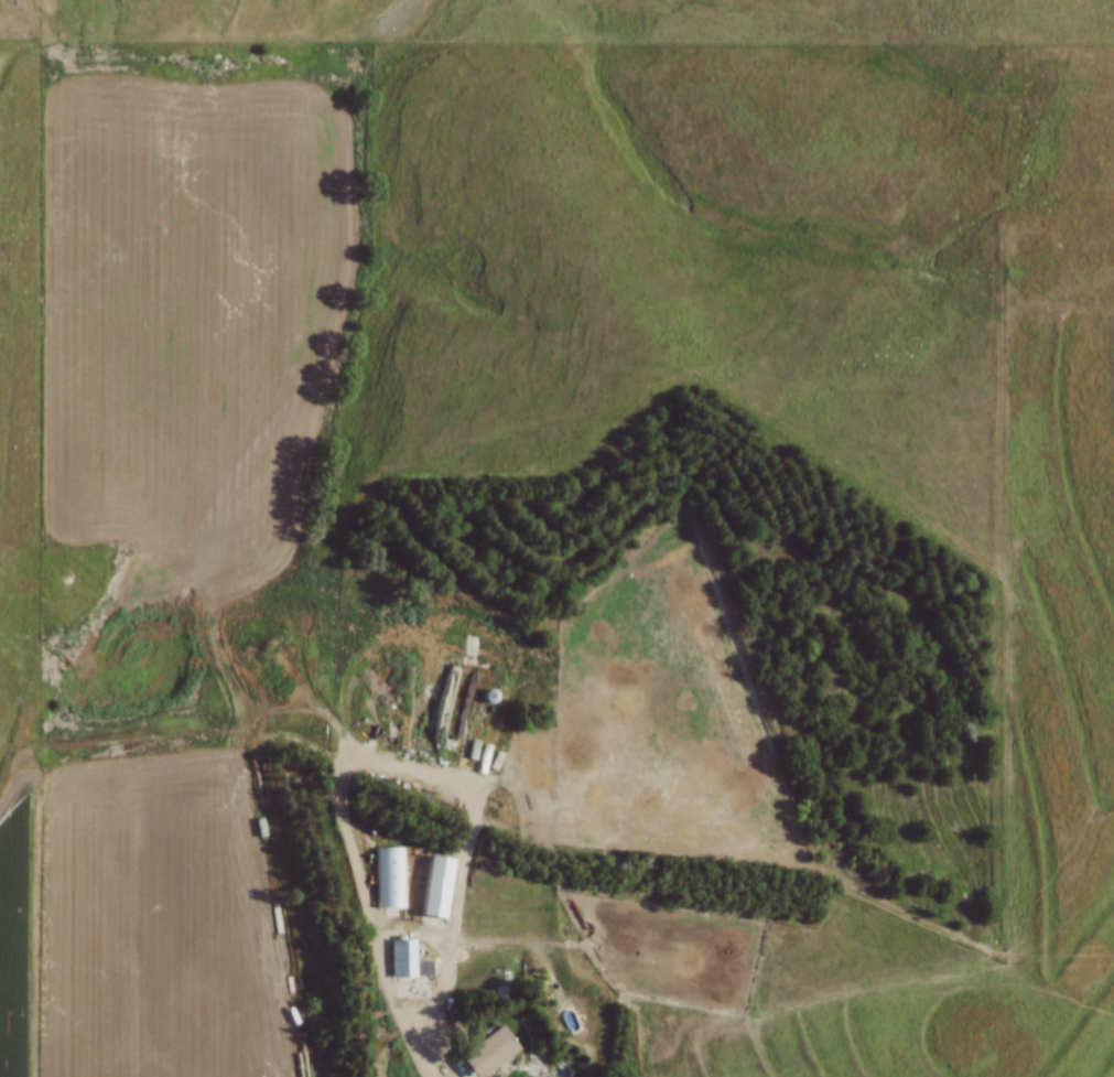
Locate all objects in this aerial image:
silo: (489, 696)
building: (389, 877)
building: (436, 885)
crop: (137, 923)
road: (394, 926)
building: (401, 958)
building: (487, 1051)
road: (428, 1059)

